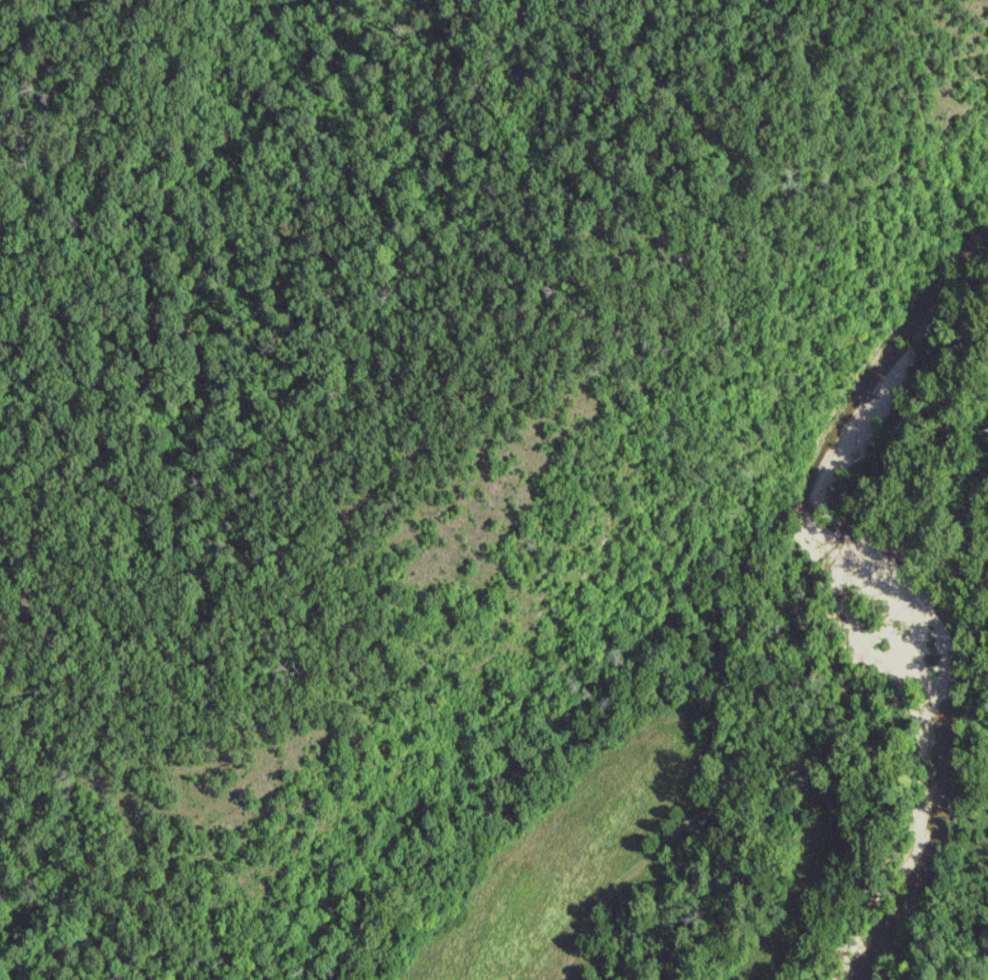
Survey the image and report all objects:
road: (11, 14)
road: (803, 749)

